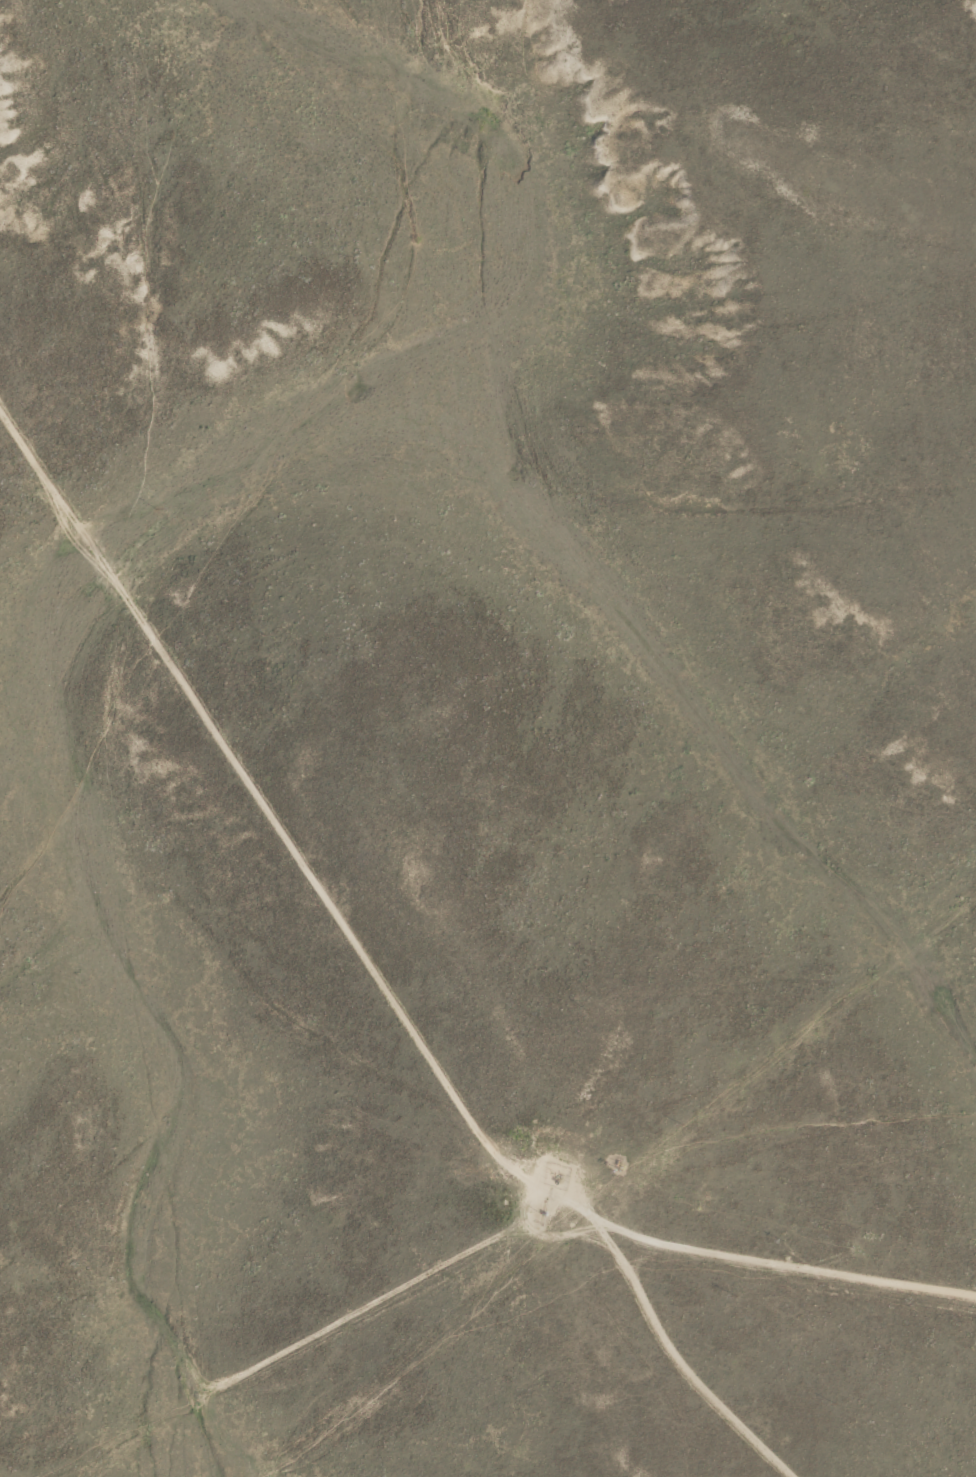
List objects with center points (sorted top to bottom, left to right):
road: (621, 1220)

